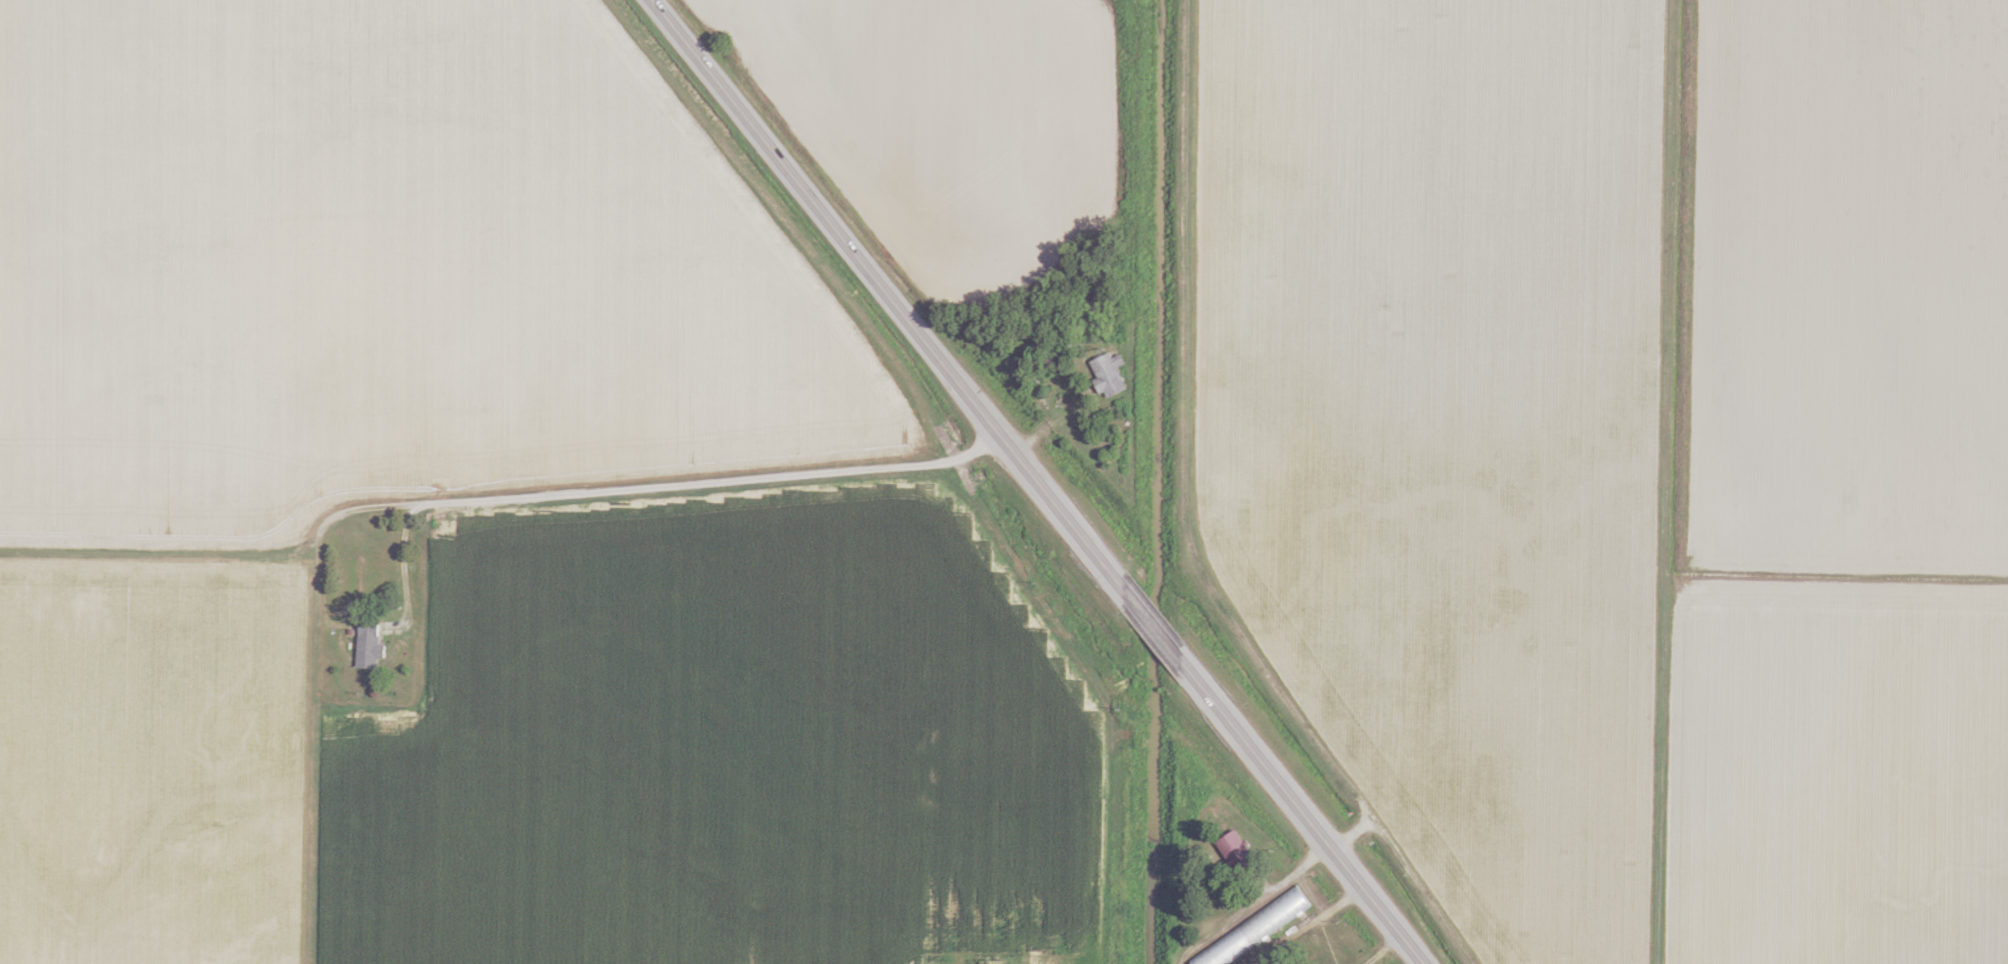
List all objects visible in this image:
building: (1107, 374)
road: (1073, 418)
road: (1037, 482)
road: (614, 490)
building: (367, 648)
building: (1233, 851)
building: (1250, 929)

